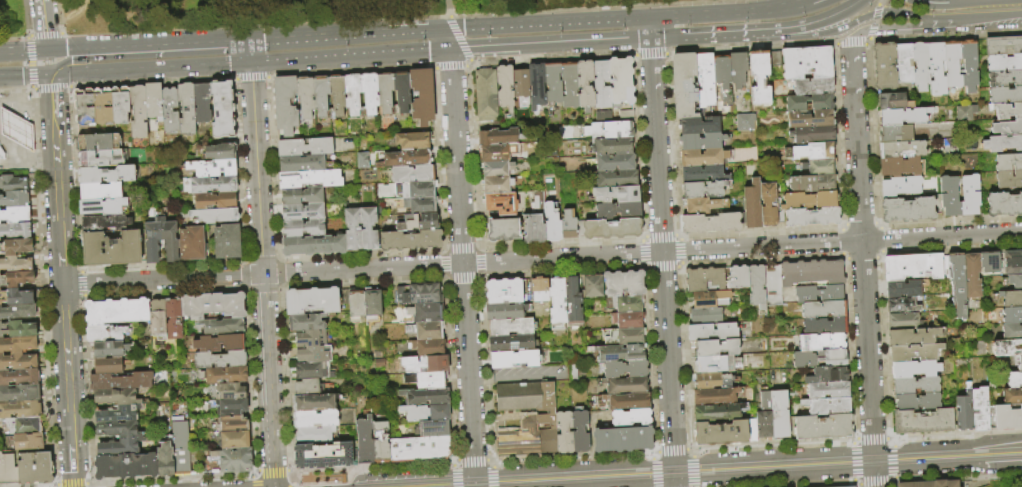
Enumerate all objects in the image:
road: (803, 2)
road: (805, 2)
road: (934, 2)
road: (982, 2)
road: (878, 3)
road: (447, 8)
road: (594, 8)
road: (888, 11)
road: (723, 12)
park: (261, 13)
traffic signals: (649, 17)
road: (874, 17)
road: (25, 18)
road: (987, 18)
road: (55, 20)
road: (821, 20)
road: (448, 22)
road: (549, 22)
road: (43, 24)
traffic signals: (449, 28)
road: (649, 28)
road: (913, 28)
road: (349, 32)
road: (871, 32)
road: (860, 33)
road: (50, 34)
road: (731, 34)
road: (803, 35)
road: (13, 36)
road: (945, 36)
road: (237, 37)
traffic signals: (249, 37)
road: (458, 37)
road: (666, 38)
road: (869, 38)
road: (449, 39)
traffic signals: (650, 39)
road: (164, 41)
road: (866, 42)
road: (849, 43)
road: (549, 44)
building: (1002, 45)
road: (74, 46)
road: (749, 47)
traffic signals: (47, 49)
road: (23, 50)
road: (250, 50)
traffic signals: (450, 50)
road: (649, 54)
road: (73, 56)
road: (350, 57)
building: (774, 58)
road: (29, 62)
road: (48, 62)
building: (806, 62)
building: (1004, 62)
building: (904, 63)
traffic signals: (251, 64)
road: (468, 64)
building: (951, 64)
building: (884, 65)
building: (920, 65)
building: (969, 65)
road: (449, 67)
building: (936, 68)
road: (150, 69)
building: (737, 69)
building: (721, 71)
road: (24, 75)
traffic signals: (50, 75)
building: (759, 76)
road: (250, 78)
building: (1004, 78)
building: (705, 79)
road: (151, 81)
building: (552, 82)
building: (620, 82)
building: (520, 84)
building: (683, 84)
building: (536, 85)
building: (569, 85)
building: (584, 85)
building: (600, 85)
building: (813, 86)
road: (51, 87)
building: (504, 87)
road: (31, 88)
road: (15, 89)
road: (32, 89)
road: (31, 91)
building: (384, 91)
building: (401, 92)
building: (352, 93)
building: (369, 93)
building: (319, 95)
building: (337, 95)
building: (421, 95)
building: (485, 95)
building: (1005, 95)
building: (304, 96)
road: (52, 101)
building: (153, 101)
building: (891, 101)
building: (201, 102)
building: (809, 103)
building: (119, 104)
building: (284, 104)
building: (101, 105)
building: (83, 106)
building: (185, 108)
building: (222, 108)
building: (169, 109)
building: (1007, 110)
building: (137, 111)
building: (963, 112)
building: (625, 115)
building: (602, 116)
building: (903, 116)
building: (810, 119)
building: (743, 121)
building: (699, 125)
building: (1008, 127)
building: (15, 130)
gas station: (15, 130)
building: (608, 130)
building: (896, 133)
building: (813, 134)
road: (838, 135)
building: (497, 137)
building: (413, 140)
building: (97, 141)
building: (701, 141)
road: (855, 141)
building: (1002, 143)
road: (670, 144)
building: (948, 145)
building: (304, 146)
building: (612, 146)
building: (903, 149)
building: (220, 151)
building: (815, 151)
road: (12, 152)
building: (493, 153)
building: (1, 154)
road: (44, 157)
building: (702, 157)
building: (99, 158)
building: (405, 158)
building: (361, 159)
building: (1008, 161)
building: (614, 162)
building: (301, 163)
building: (819, 166)
building: (898, 166)
building: (212, 167)
road: (257, 168)
building: (496, 169)
building: (412, 173)
road: (56, 174)
building: (106, 174)
building: (703, 174)
building: (309, 178)
building: (615, 178)
road: (74, 179)
building: (1009, 179)
building: (13, 183)
building: (813, 183)
building: (212, 184)
building: (496, 185)
building: (899, 186)
building: (419, 188)
building: (703, 189)
building: (386, 190)
building: (99, 191)
building: (615, 194)
building: (301, 195)
building: (970, 196)
building: (949, 197)
building: (13, 198)
building: (214, 200)
building: (809, 200)
building: (514, 203)
building: (937, 203)
building: (768, 204)
building: (1003, 204)
building: (415, 205)
building: (700, 205)
road: (874, 205)
building: (101, 206)
building: (751, 206)
building: (907, 209)
building: (617, 211)
building: (302, 212)
building: (14, 214)
building: (210, 215)
building: (780, 216)
building: (812, 216)
building: (104, 222)
building: (416, 222)
building: (710, 223)
road: (874, 223)
road: (859, 224)
building: (551, 225)
building: (567, 225)
road: (879, 227)
building: (303, 228)
building: (352, 229)
building: (368, 229)
building: (533, 229)
building: (608, 229)
road: (840, 229)
building: (502, 230)
building: (14, 231)
road: (761, 232)
road: (673, 235)
road: (659, 236)
road: (642, 237)
road: (644, 237)
road: (677, 237)
road: (879, 239)
building: (160, 240)
building: (410, 240)
road: (640, 240)
building: (226, 241)
road: (840, 241)
building: (191, 243)
building: (312, 245)
building: (15, 246)
road: (475, 246)
road: (741, 246)
road: (459, 247)
building: (110, 248)
road: (443, 248)
road: (445, 248)
road: (479, 249)
road: (679, 250)
road: (243, 251)
road: (640, 251)
road: (880, 251)
road: (441, 252)
road: (60, 253)
road: (842, 254)
road: (875, 257)
road: (275, 258)
road: (845, 258)
road: (860, 258)
road: (245, 259)
road: (260, 259)
road: (758, 260)
road: (278, 261)
road: (480, 261)
road: (662, 262)
road: (680, 262)
building: (989, 262)
building: (1012, 262)
road: (241, 263)
building: (14, 264)
road: (442, 264)
road: (641, 264)
road: (676, 266)
building: (912, 267)
building: (944, 267)
road: (461, 268)
road: (645, 268)
road: (661, 268)
road: (563, 270)
road: (278, 272)
building: (811, 273)
road: (261, 274)
road: (480, 274)
road: (877, 274)
road: (242, 275)
building: (971, 276)
road: (442, 277)
building: (16, 278)
building: (737, 278)
road: (477, 279)
building: (704, 279)
road: (461, 280)
road: (446, 281)
road: (358, 282)
building: (1014, 282)
road: (80, 283)
road: (280, 284)
building: (623, 284)
building: (772, 285)
building: (957, 285)
building: (757, 286)
road: (243, 287)
building: (592, 287)
road: (43, 288)
building: (903, 288)
road: (276, 289)
road: (262, 290)
building: (538, 290)
road: (247, 291)
building: (505, 292)
building: (417, 294)
building: (819, 294)
building: (15, 296)
building: (315, 299)
building: (706, 299)
building: (1011, 299)
road: (246, 300)
building: (572, 303)
building: (901, 304)
building: (213, 305)
building: (356, 305)
building: (372, 305)
building: (626, 305)
building: (556, 306)
building: (823, 309)
building: (16, 311)
building: (424, 312)
building: (504, 312)
building: (1011, 315)
building: (706, 316)
building: (113, 318)
building: (174, 318)
building: (158, 319)
building: (305, 321)
building: (627, 321)
building: (902, 321)
building: (222, 326)
building: (824, 326)
building: (509, 327)
building: (17, 328)
building: (425, 330)
building: (1011, 331)
building: (712, 332)
building: (624, 337)
building: (912, 337)
building: (310, 338)
building: (821, 342)
building: (219, 343)
building: (17, 344)
building: (510, 344)
building: (427, 347)
building: (715, 348)
building: (1006, 348)
building: (109, 349)
road: (867, 350)
building: (311, 353)
building: (914, 353)
building: (619, 354)
building: (512, 359)
building: (819, 359)
building: (219, 360)
building: (17, 361)
building: (1018, 362)
building: (424, 363)
road: (66, 364)
building: (716, 364)
building: (108, 365)
building: (914, 369)
building: (312, 370)
building: (625, 370)
building: (223, 375)
road: (528, 375)
building: (827, 375)
building: (19, 377)
road: (482, 378)
building: (426, 379)
building: (1013, 379)
road: (268, 380)
building: (120, 381)
building: (708, 381)
building: (625, 386)
building: (915, 386)
building: (307, 387)
road: (84, 388)
building: (227, 391)
building: (828, 391)
building: (19, 393)
building: (424, 396)
building: (1011, 396)
building: (714, 397)
building: (313, 402)
building: (626, 402)
building: (916, 402)
building: (116, 406)
building: (231, 407)
building: (827, 407)
building: (19, 409)
building: (979, 410)
building: (425, 412)
building: (963, 412)
building: (717, 413)
building: (779, 414)
building: (764, 417)
building: (1007, 417)
building: (314, 418)
building: (629, 418)
building: (526, 419)
building: (922, 421)
building: (232, 423)
building: (22, 425)
building: (433, 428)
building: (822, 428)
building: (579, 431)
building: (750, 431)
building: (564, 433)
road: (957, 433)
building: (314, 434)
building: (719, 434)
building: (118, 437)
road: (853, 438)
road: (870, 438)
road: (888, 438)
building: (233, 439)
building: (364, 440)
building: (621, 440)
building: (27, 441)
building: (379, 442)
road: (852, 442)
road: (893, 442)
road: (770, 445)
building: (180, 448)
building: (419, 448)
road: (686, 449)
road: (670, 450)
road: (653, 452)
road: (690, 453)
building: (322, 454)
road: (651, 456)
road: (571, 458)
building: (233, 459)
road: (489, 459)
building: (165, 460)
road: (454, 460)
road: (471, 460)
road: (852, 461)
road: (893, 461)
road: (452, 463)
road: (72, 465)
road: (492, 465)
building: (125, 466)
building: (34, 467)
road: (372, 467)
railway: (677, 467)
building: (7, 469)
road: (705, 469)
road: (271, 470)
road: (289, 471)
road: (694, 471)
railway: (737, 471)
road: (256, 472)
road: (652, 472)
road: (873, 473)
road: (253, 475)
road: (452, 475)
road: (492, 477)
road: (958, 477)
road: (173, 478)
road: (292, 478)
road: (894, 479)
road: (854, 481)
road: (892, 481)
road: (251, 482)
road: (874, 482)
road: (88, 483)
road: (856, 483)
road: (70, 484)
road: (890, 484)
building: (929, 484)
road: (55, 485)
road: (92, 485)
road: (292, 485)
road: (814, 485)
road: (857, 485)
road: (36, 486)
road: (53, 486)
building: (849, 486)

